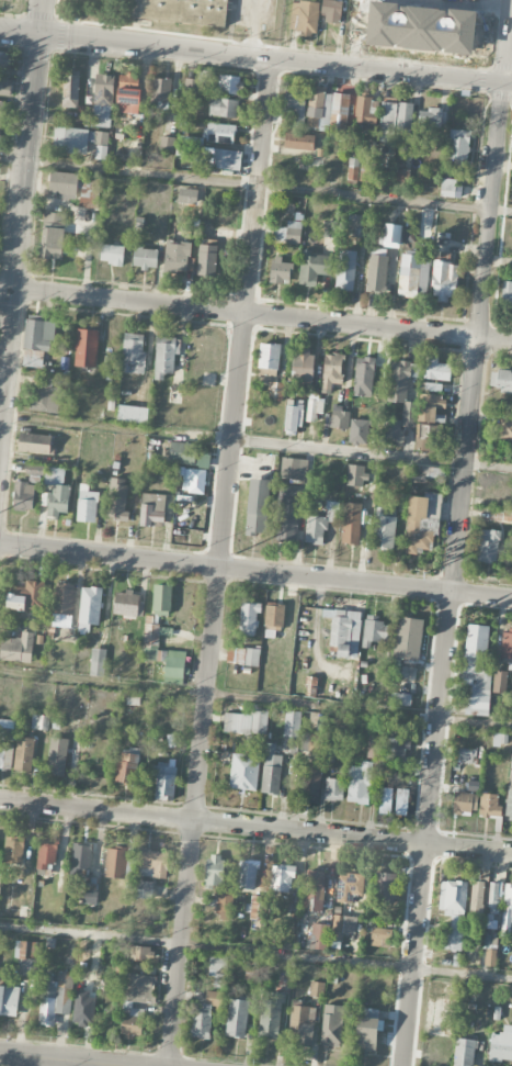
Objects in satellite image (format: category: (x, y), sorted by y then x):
building: (183, 11)
building: (331, 11)
building: (305, 16)
road: (254, 27)
road: (255, 55)
building: (3, 58)
building: (4, 82)
building: (197, 82)
building: (229, 83)
building: (161, 89)
building: (70, 90)
building: (103, 90)
building: (128, 92)
building: (296, 104)
building: (223, 106)
building: (326, 108)
building: (1, 109)
building: (364, 111)
building: (405, 117)
building: (430, 117)
building: (387, 121)
building: (0, 126)
building: (220, 132)
building: (77, 138)
building: (298, 141)
building: (167, 143)
building: (458, 144)
building: (221, 158)
building: (353, 168)
building: (401, 175)
building: (62, 183)
road: (255, 184)
building: (448, 187)
building: (187, 195)
road: (21, 211)
building: (355, 225)
building: (293, 231)
building: (224, 233)
building: (53, 235)
building: (391, 235)
building: (112, 254)
building: (177, 256)
building: (145, 257)
building: (207, 258)
building: (312, 267)
building: (345, 269)
building: (281, 270)
building: (376, 272)
building: (413, 274)
building: (444, 281)
building: (507, 292)
road: (255, 312)
building: (36, 340)
building: (86, 347)
building: (134, 352)
building: (269, 355)
building: (164, 356)
building: (301, 364)
building: (436, 369)
building: (331, 371)
building: (364, 375)
building: (502, 379)
building: (402, 388)
building: (45, 395)
building: (429, 406)
building: (314, 407)
building: (133, 413)
building: (293, 416)
building: (339, 417)
building: (504, 429)
building: (359, 430)
building: (392, 431)
building: (422, 436)
road: (255, 440)
building: (33, 442)
building: (184, 452)
building: (294, 468)
building: (429, 472)
building: (194, 480)
building: (23, 495)
building: (57, 500)
building: (116, 500)
building: (87, 504)
building: (257, 505)
building: (152, 509)
building: (288, 513)
building: (501, 515)
building: (422, 521)
building: (351, 523)
building: (320, 524)
building: (385, 530)
road: (458, 532)
building: (488, 545)
power tower: (231, 553)
road: (220, 561)
road: (255, 571)
power tower: (441, 574)
building: (27, 596)
building: (161, 598)
building: (125, 603)
building: (62, 604)
building: (90, 604)
building: (274, 616)
building: (249, 618)
building: (374, 630)
building: (345, 631)
building: (408, 638)
building: (507, 643)
building: (16, 647)
building: (163, 655)
building: (242, 655)
building: (98, 661)
building: (477, 665)
building: (499, 681)
building: (310, 684)
building: (401, 698)
road: (476, 720)
building: (39, 721)
building: (246, 721)
building: (7, 728)
building: (291, 730)
building: (311, 742)
building: (388, 747)
building: (24, 753)
building: (466, 754)
building: (57, 755)
building: (5, 758)
building: (127, 764)
building: (271, 770)
building: (244, 772)
building: (164, 783)
building: (309, 783)
building: (359, 784)
building: (333, 788)
building: (510, 790)
building: (464, 801)
building: (489, 805)
road: (255, 828)
building: (14, 850)
building: (47, 853)
building: (81, 856)
building: (130, 857)
building: (115, 862)
building: (151, 867)
building: (249, 873)
building: (282, 877)
building: (385, 884)
building: (219, 885)
building: (350, 886)
building: (144, 889)
building: (315, 890)
building: (90, 893)
building: (494, 897)
building: (476, 899)
building: (257, 908)
building: (507, 910)
building: (453, 911)
building: (490, 921)
building: (343, 925)
building: (376, 935)
building: (318, 936)
road: (255, 953)
building: (25, 956)
building: (490, 956)
building: (216, 967)
building: (55, 996)
building: (8, 997)
building: (127, 1005)
building: (271, 1012)
building: (204, 1013)
building: (237, 1017)
building: (303, 1023)
building: (332, 1024)
building: (367, 1032)
building: (501, 1045)
building: (465, 1052)
road: (52, 1061)

